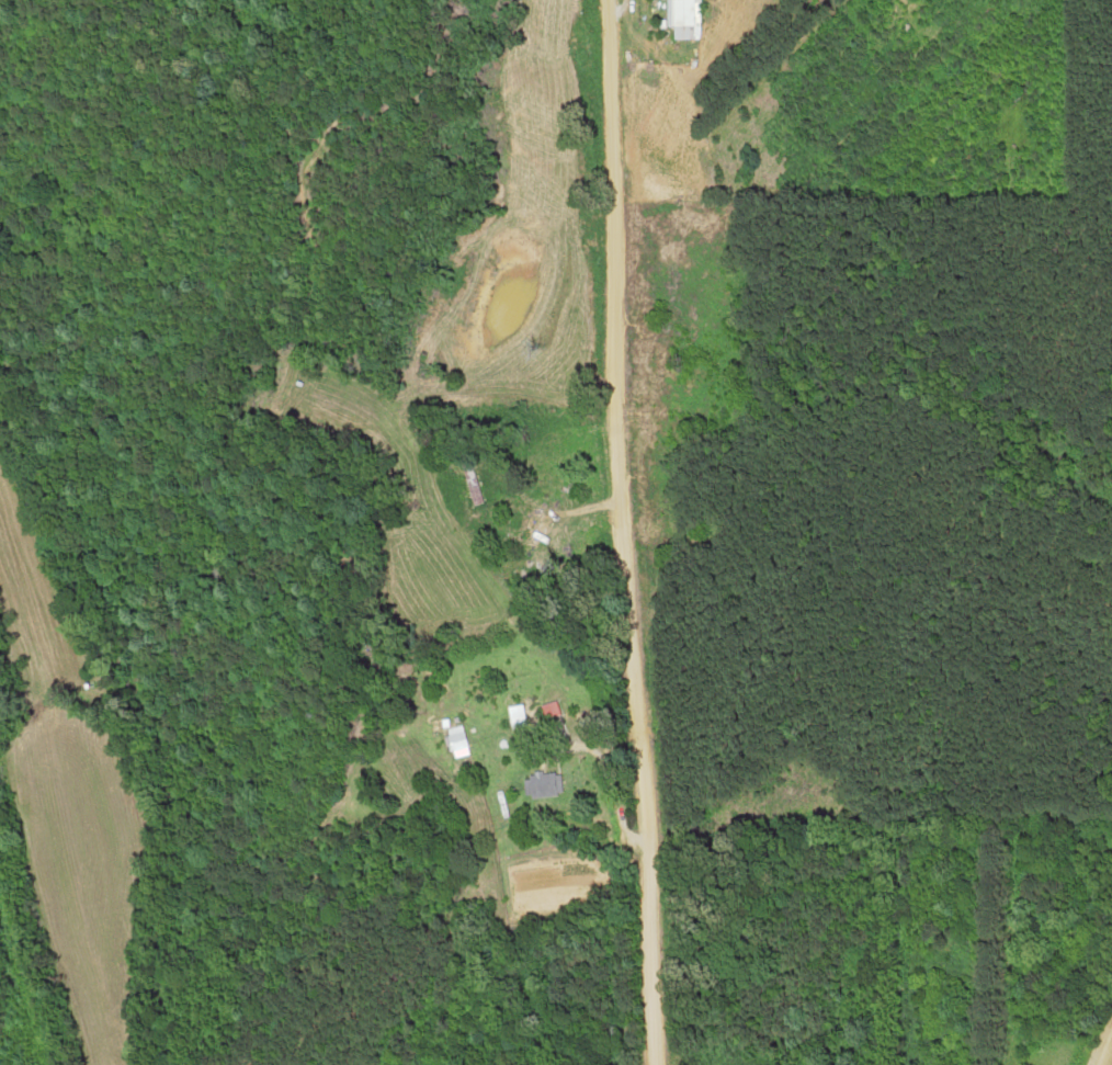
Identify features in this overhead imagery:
building: (682, 18)
building: (466, 483)
road: (628, 532)
building: (456, 745)
building: (538, 783)

